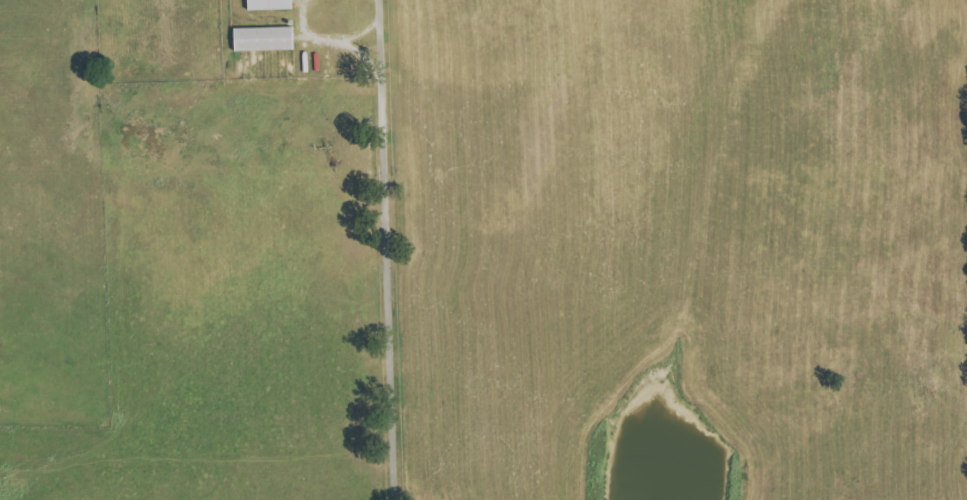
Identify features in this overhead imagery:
building: (273, 4)
building: (267, 38)
road: (391, 250)

